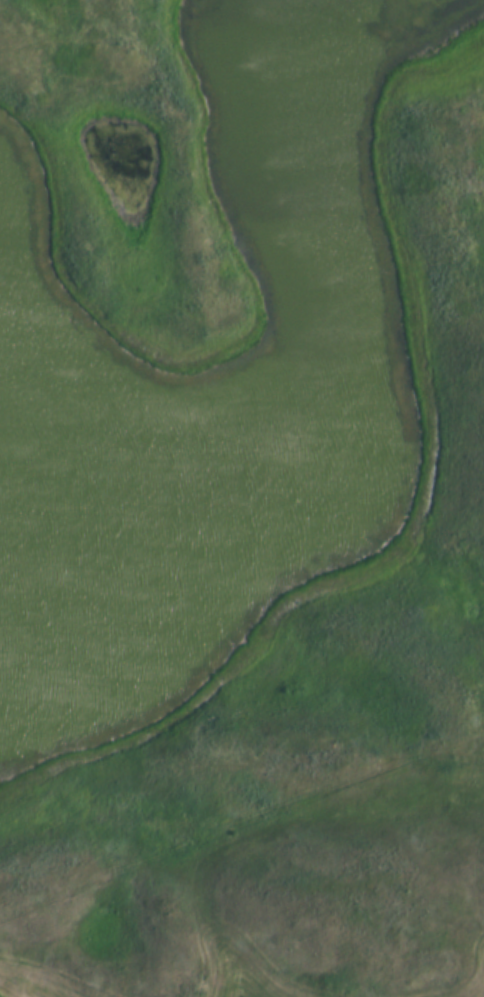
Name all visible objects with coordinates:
road: (239, 827)

